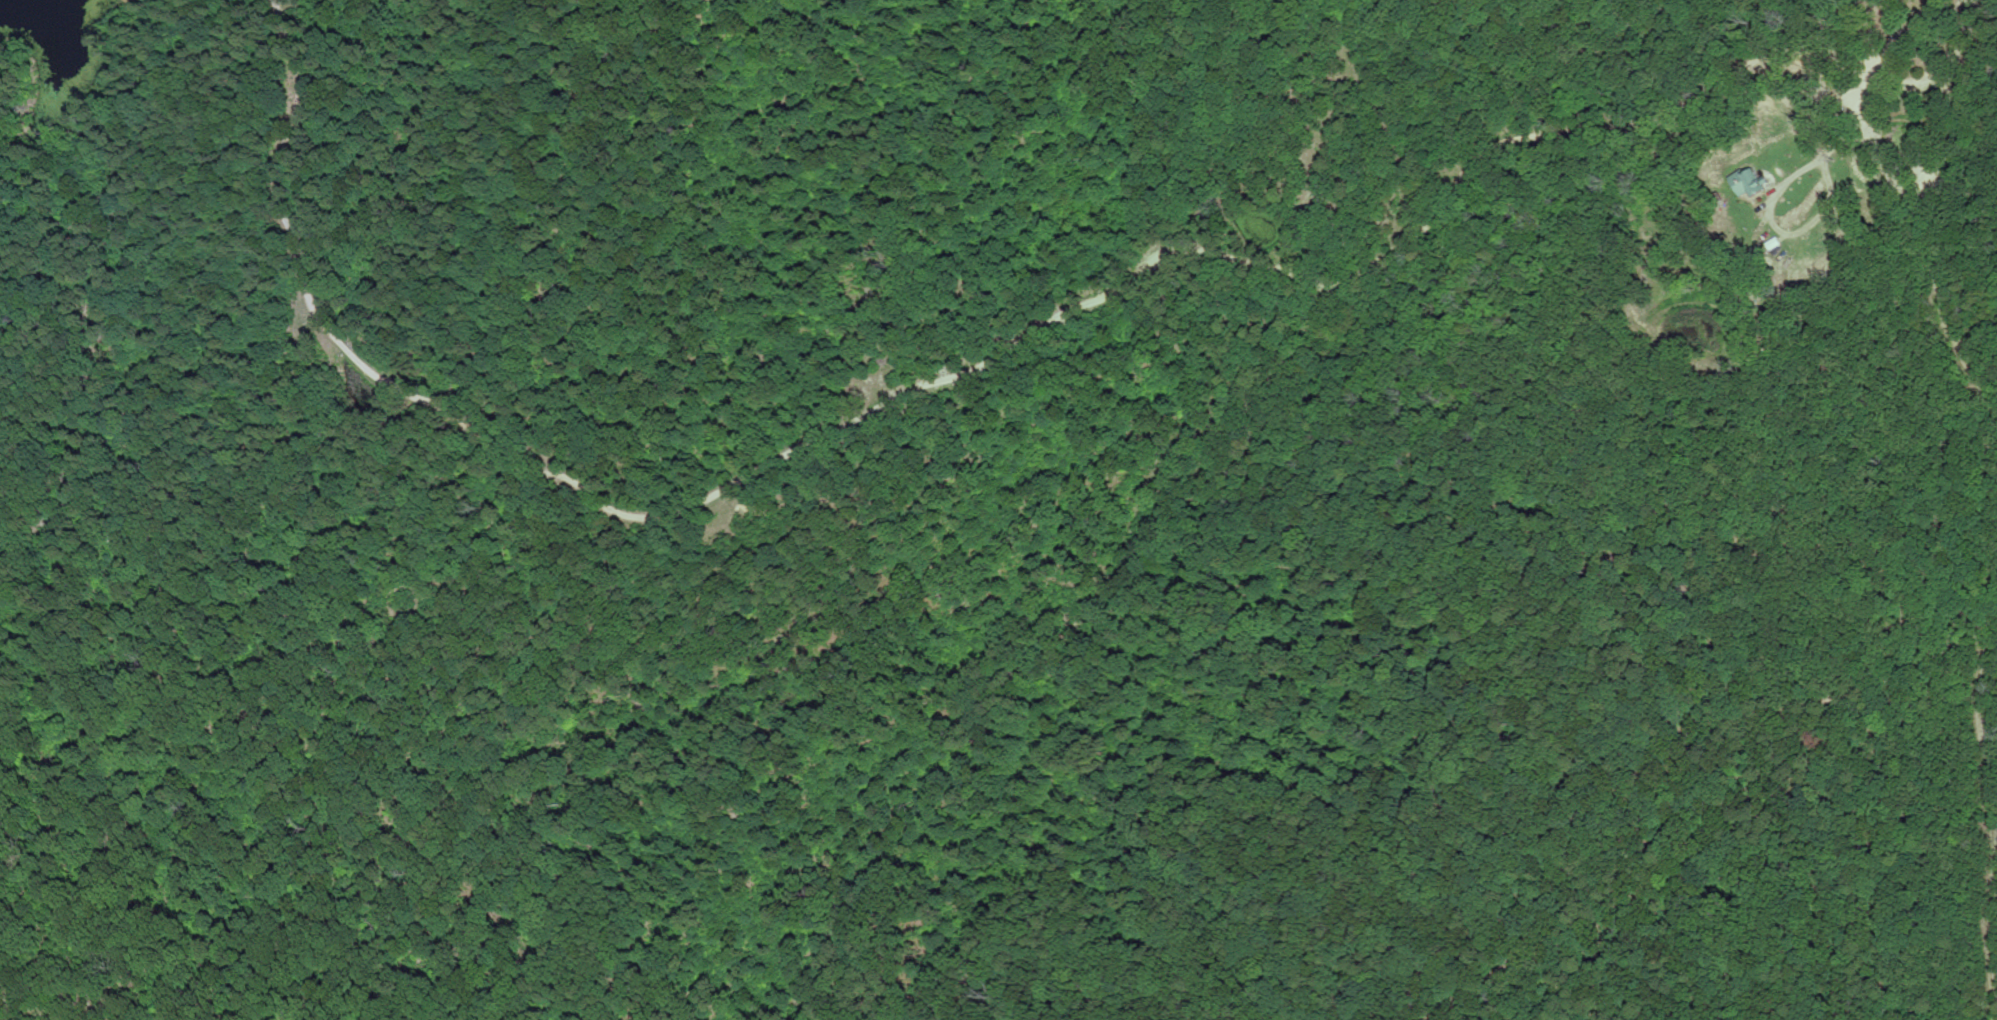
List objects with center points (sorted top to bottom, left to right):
building: (1746, 183)
building: (1102, 299)

